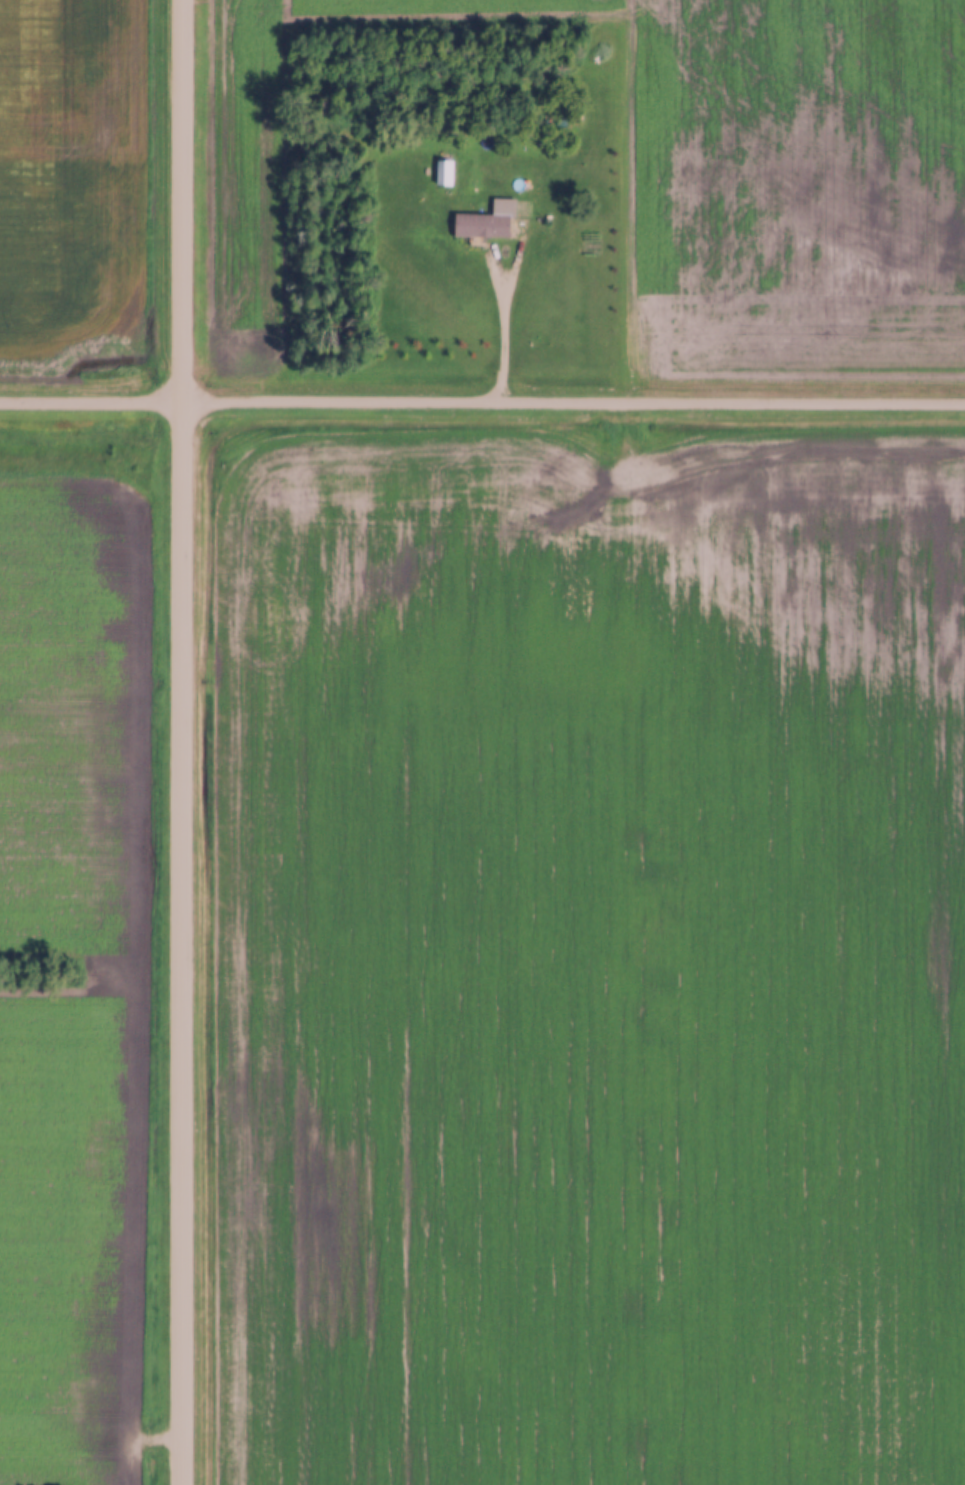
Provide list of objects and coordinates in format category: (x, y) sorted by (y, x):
building: (441, 172)
building: (479, 224)
road: (489, 255)
road: (482, 403)
road: (181, 742)

